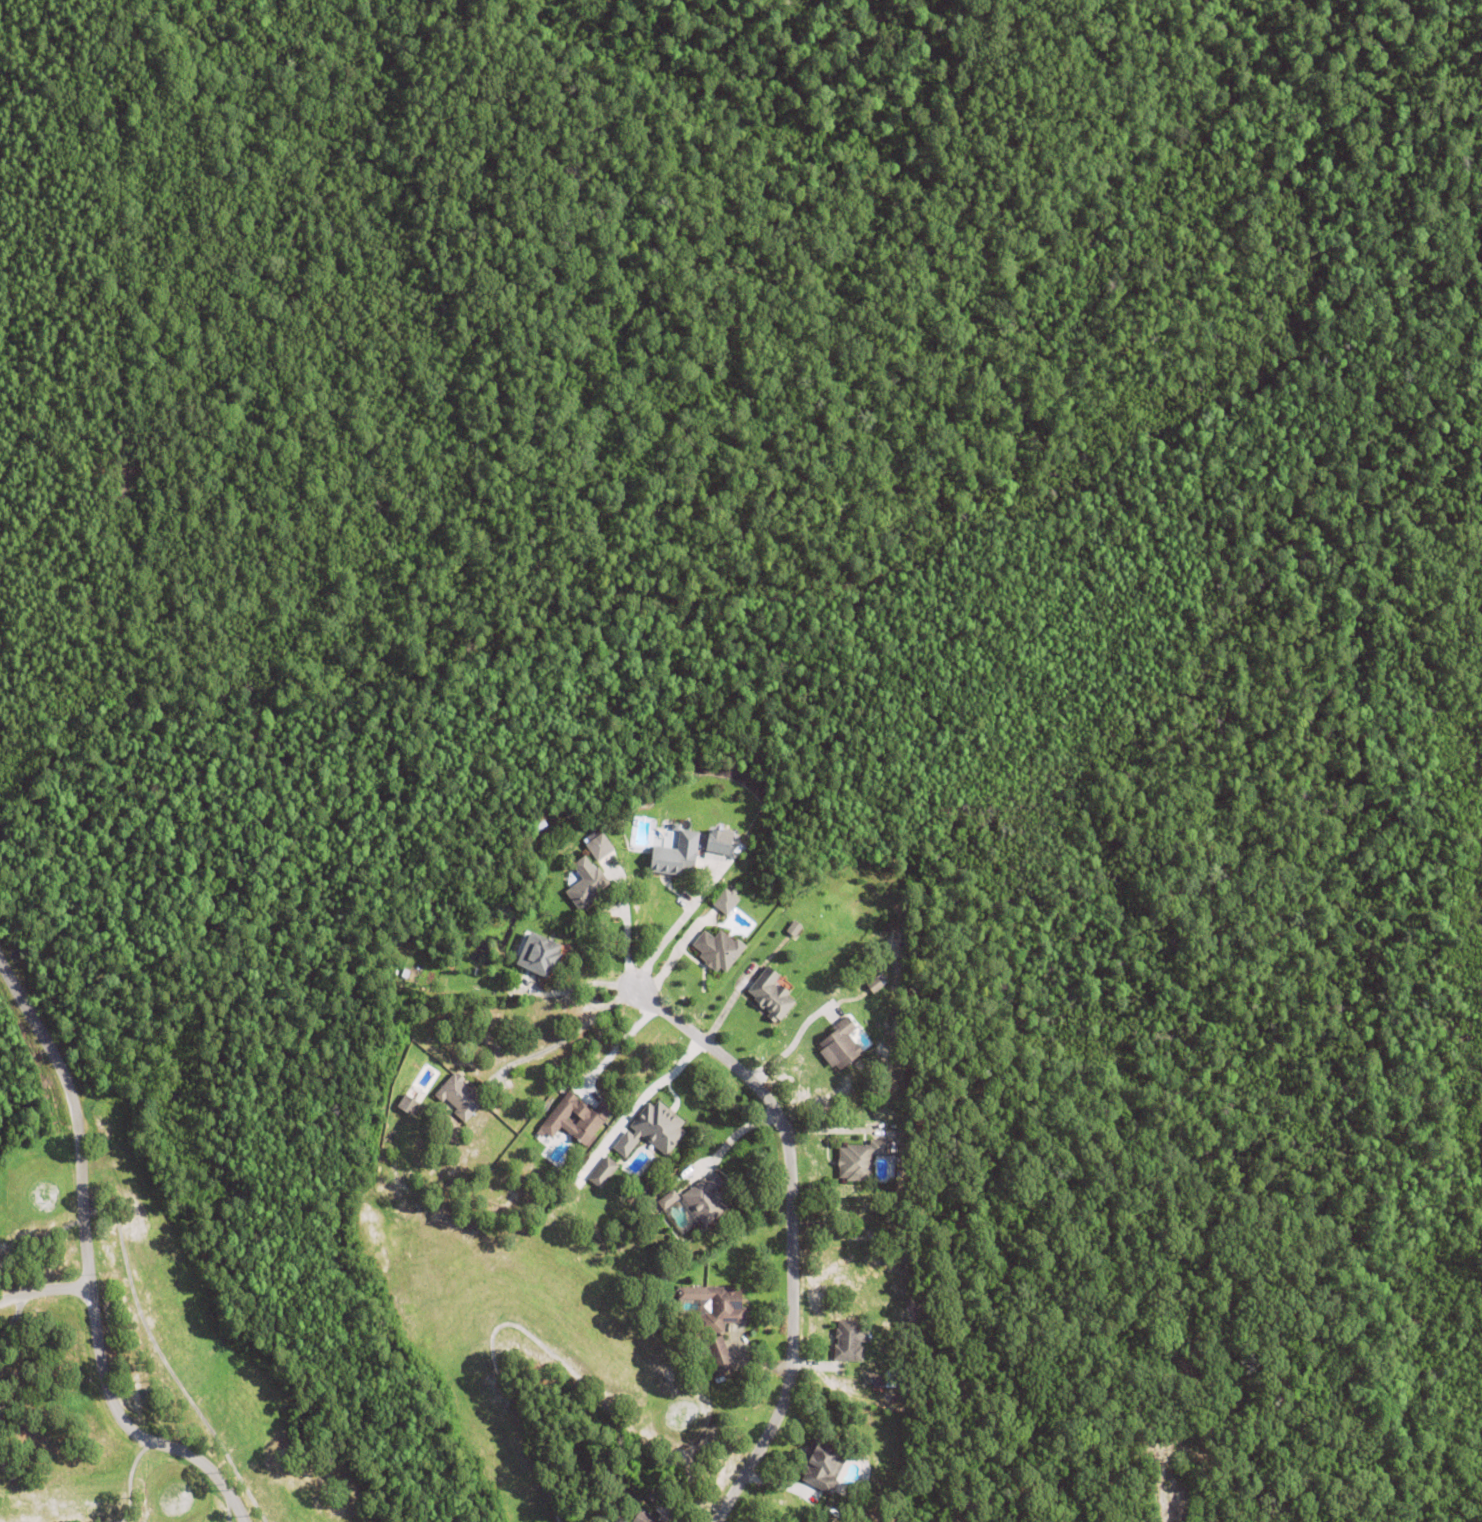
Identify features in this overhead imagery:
building: (716, 842)
building: (594, 848)
building: (614, 852)
building: (676, 858)
building: (587, 887)
building: (724, 901)
building: (794, 931)
building: (718, 953)
building: (540, 958)
road: (671, 958)
building: (875, 987)
building: (771, 998)
road: (560, 1044)
road: (615, 1048)
building: (841, 1048)
road: (642, 1098)
building: (459, 1100)
building: (408, 1108)
building: (574, 1119)
building: (653, 1133)
building: (860, 1162)
building: (601, 1172)
building: (668, 1202)
building: (706, 1202)
road: (785, 1234)
road: (87, 1270)
road: (44, 1297)
building: (715, 1307)
park: (292, 1331)
building: (849, 1344)
building: (1175, 1350)
building: (716, 1358)
building: (878, 1384)
building: (149, 1419)
building: (824, 1467)
building: (1182, 1504)
building: (643, 1518)
building: (901, 1519)

